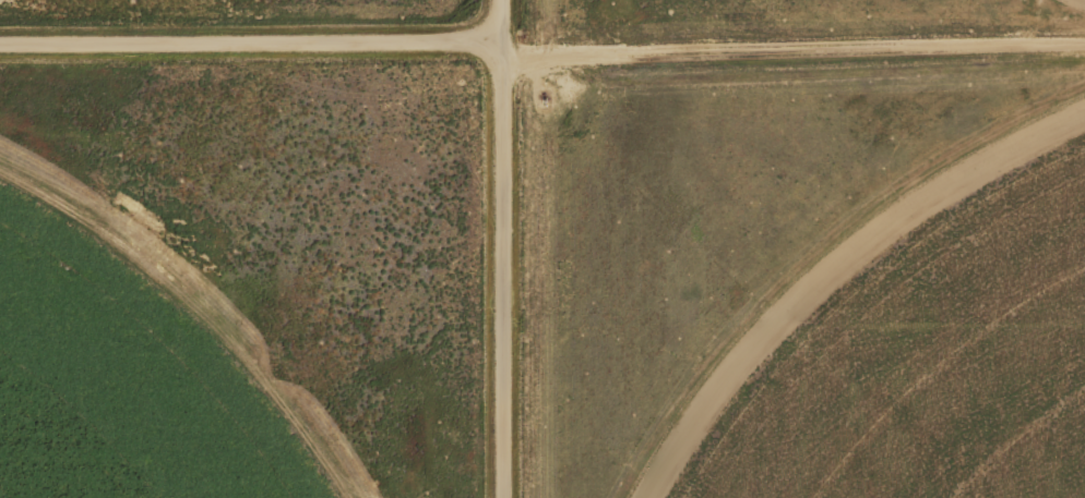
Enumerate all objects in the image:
road: (251, 40)
road: (504, 248)

